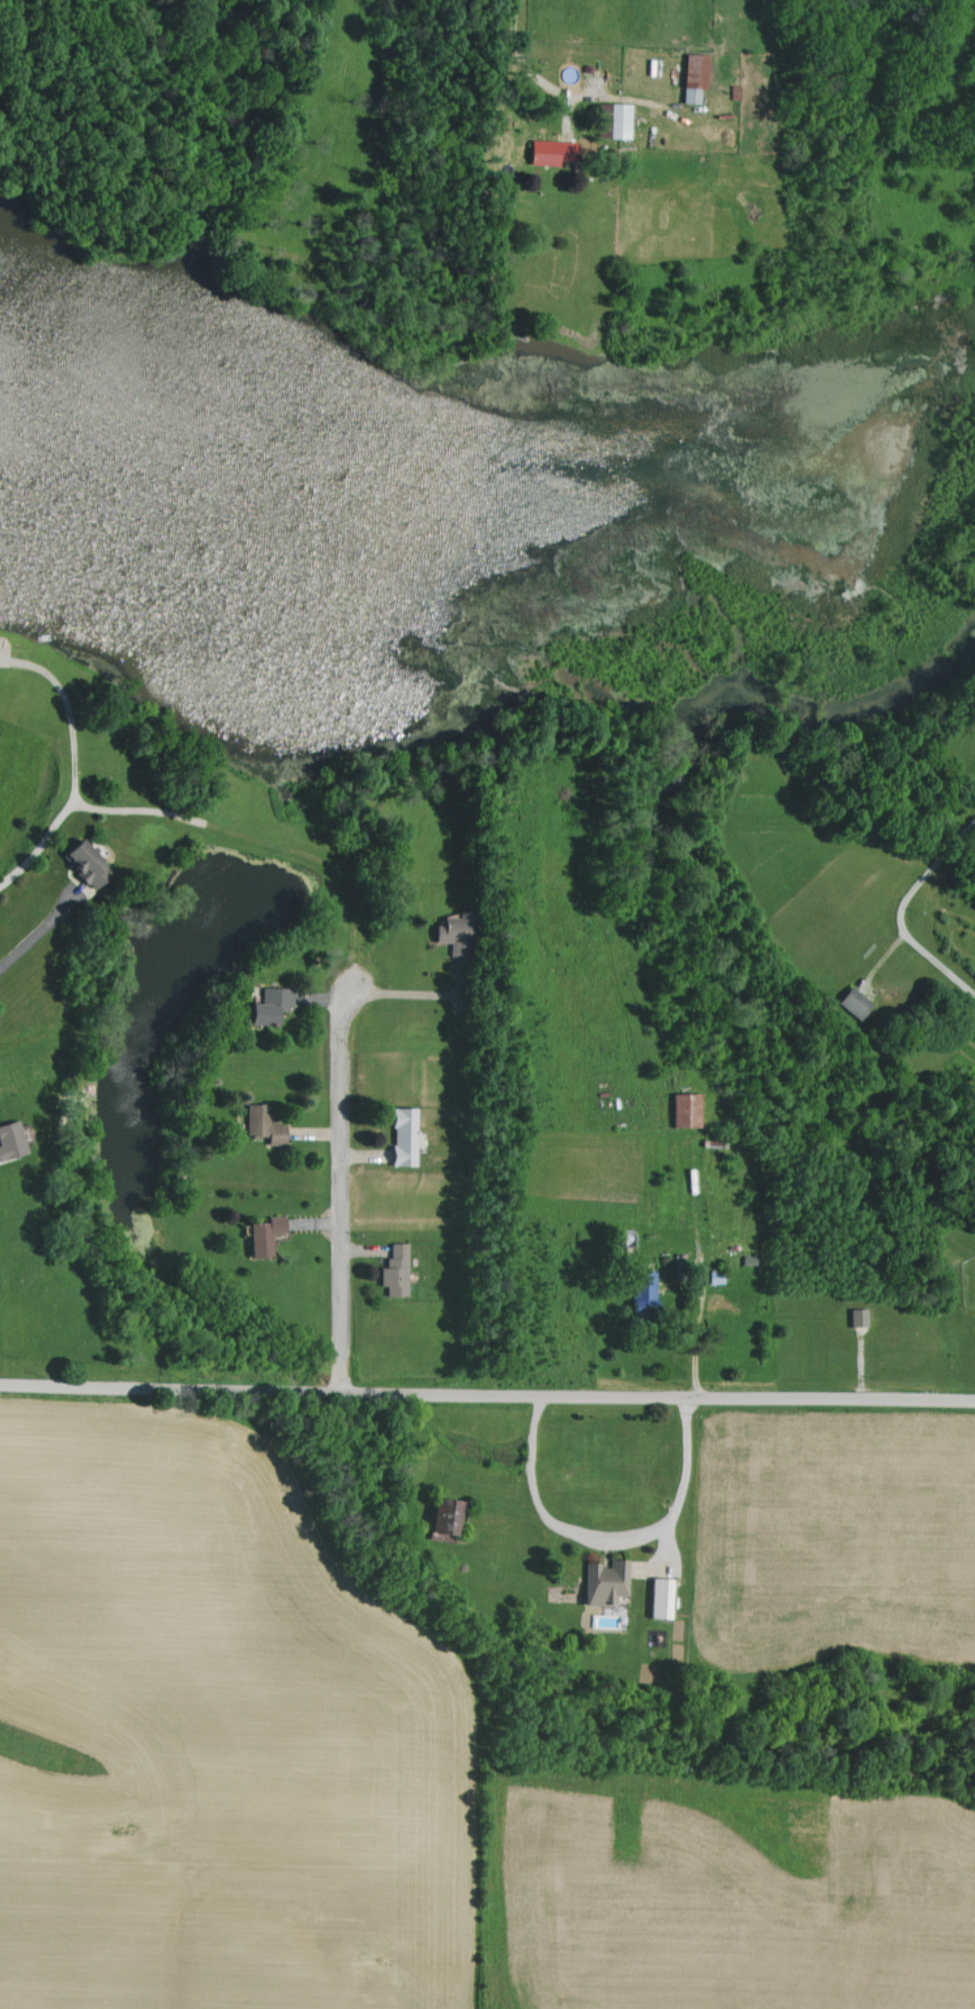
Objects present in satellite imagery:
road: (519, 59)
building: (692, 76)
building: (618, 120)
building: (558, 152)
building: (96, 865)
road: (901, 909)
building: (456, 930)
road: (34, 934)
building: (853, 1002)
building: (280, 1006)
building: (684, 1109)
building: (273, 1129)
building: (410, 1137)
building: (16, 1141)
road: (339, 1192)
building: (271, 1235)
building: (401, 1271)
building: (647, 1286)
building: (857, 1316)
road: (695, 1343)
road: (487, 1400)
building: (459, 1517)
road: (610, 1545)
building: (614, 1580)
building: (659, 1597)

